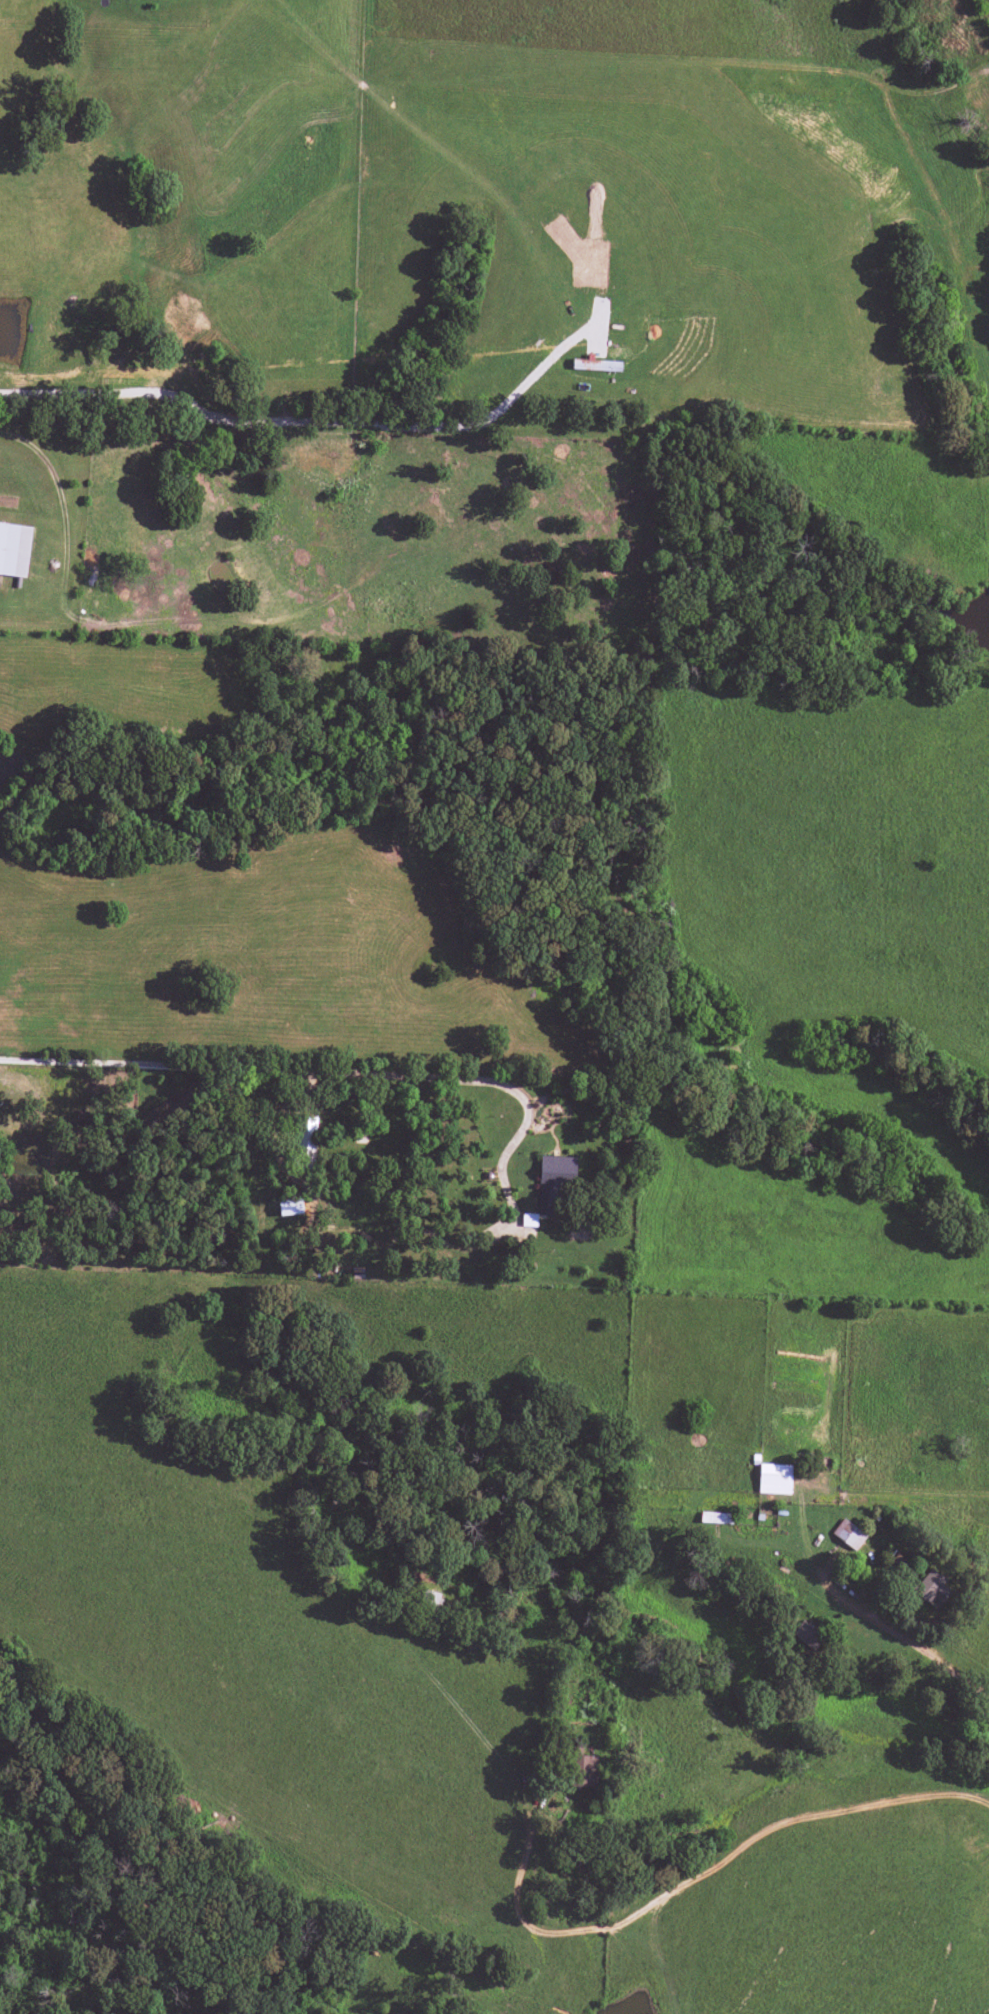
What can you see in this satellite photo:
building: (14, 549)
road: (320, 1071)
building: (553, 1181)
building: (290, 1207)
building: (774, 1478)
building: (848, 1534)
building: (932, 1589)
road: (902, 1634)
building: (810, 1636)
road: (683, 1884)

